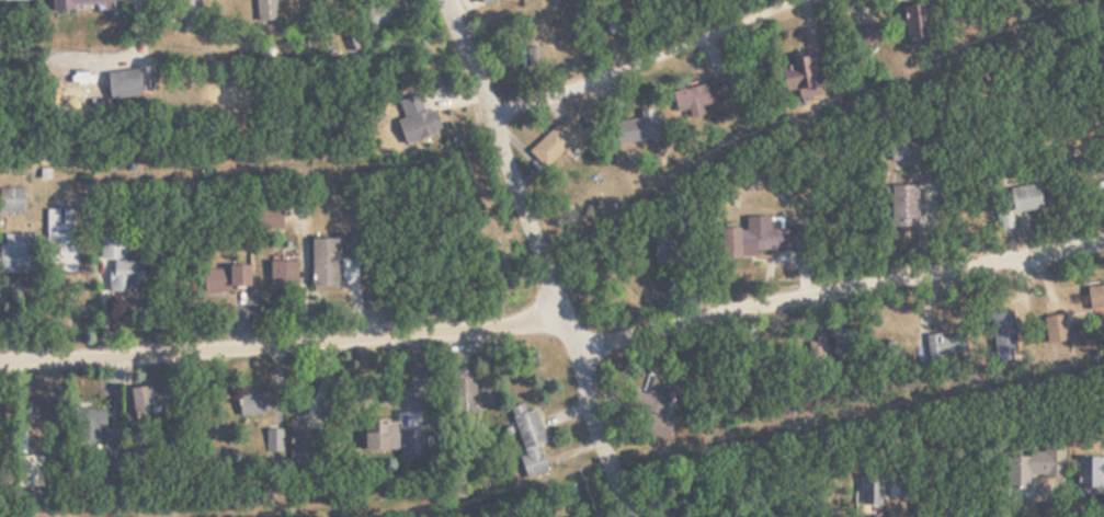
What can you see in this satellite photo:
building: (12, 0)
building: (486, 1)
building: (79, 2)
building: (265, 11)
building: (377, 15)
building: (914, 21)
building: (172, 22)
building: (865, 36)
road: (640, 58)
building: (798, 78)
building: (123, 85)
building: (703, 95)
building: (416, 122)
building: (636, 129)
building: (557, 143)
building: (902, 151)
road: (252, 183)
building: (1024, 198)
building: (11, 200)
building: (901, 206)
building: (58, 225)
building: (758, 241)
building: (664, 252)
building: (16, 253)
road: (542, 256)
building: (327, 262)
building: (119, 267)
building: (225, 279)
road: (840, 288)
building: (1095, 297)
road: (281, 325)
building: (1056, 330)
building: (1003, 332)
building: (842, 345)
building: (946, 348)
building: (468, 391)
building: (151, 401)
building: (258, 404)
building: (655, 409)
building: (89, 425)
building: (528, 436)
building: (376, 437)
building: (303, 453)
building: (1032, 468)
building: (34, 472)
building: (1091, 472)
building: (870, 490)

